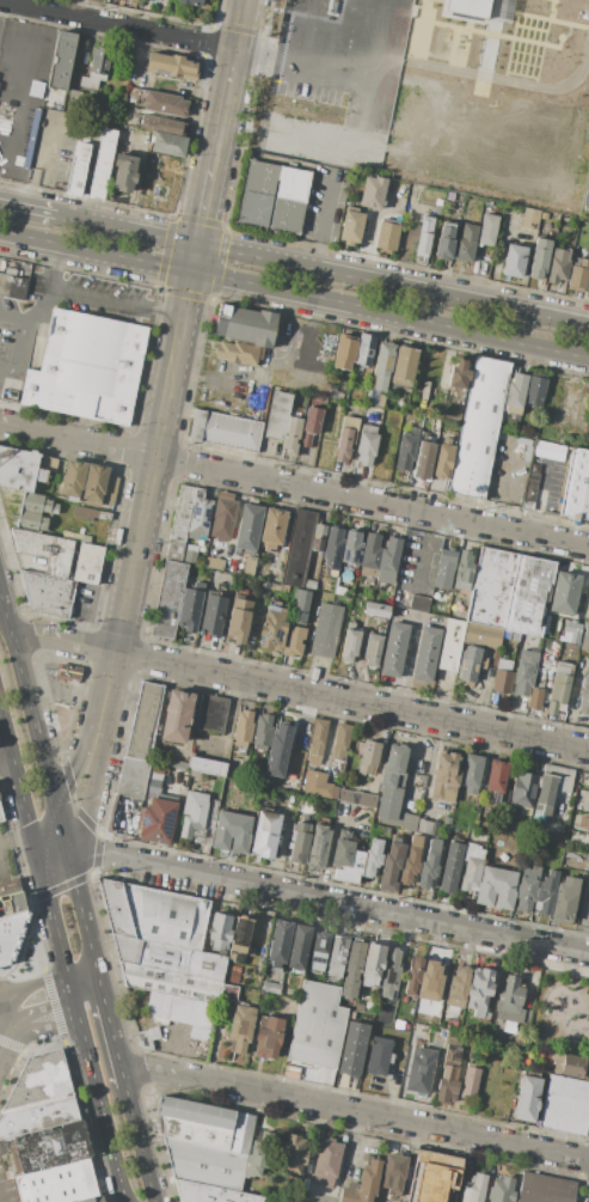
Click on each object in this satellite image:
building: (191, 2)
building: (468, 7)
road: (88, 8)
building: (319, 22)
road: (117, 24)
road: (20, 57)
building: (61, 60)
building: (172, 65)
road: (295, 66)
building: (94, 71)
road: (130, 79)
road: (227, 85)
park: (499, 91)
building: (74, 98)
building: (162, 103)
building: (161, 123)
road: (252, 138)
building: (167, 142)
building: (102, 163)
building: (78, 169)
building: (124, 172)
building: (372, 193)
building: (274, 196)
building: (585, 197)
road: (202, 207)
road: (26, 208)
building: (544, 215)
road: (318, 218)
building: (530, 219)
building: (351, 226)
building: (487, 230)
building: (424, 236)
building: (387, 237)
building: (444, 240)
building: (465, 243)
traffic signals: (196, 245)
road: (194, 257)
building: (539, 257)
building: (515, 261)
building: (558, 264)
traffic signals: (191, 269)
road: (201, 270)
road: (320, 270)
building: (578, 274)
building: (14, 279)
building: (587, 283)
road: (43, 295)
road: (113, 301)
road: (183, 306)
building: (245, 324)
road: (495, 337)
parking lot: (22, 348)
building: (326, 348)
road: (12, 349)
building: (364, 349)
building: (238, 352)
building: (344, 352)
building: (287, 356)
building: (382, 364)
building: (404, 366)
building: (86, 368)
building: (459, 373)
road: (211, 374)
building: (535, 390)
building: (332, 393)
building: (516, 393)
road: (564, 396)
building: (372, 397)
building: (379, 401)
building: (277, 416)
building: (312, 420)
building: (350, 422)
building: (478, 428)
building: (225, 431)
building: (293, 433)
building: (306, 439)
building: (343, 446)
building: (366, 446)
building: (405, 452)
building: (443, 459)
building: (423, 460)
building: (47, 463)
building: (17, 468)
building: (41, 476)
building: (72, 480)
building: (514, 483)
building: (93, 484)
road: (294, 484)
building: (576, 487)
building: (111, 489)
road: (540, 489)
building: (530, 490)
road: (146, 498)
building: (38, 504)
building: (84, 513)
building: (104, 515)
building: (200, 518)
building: (222, 518)
building: (33, 520)
building: (182, 520)
building: (271, 527)
building: (247, 529)
building: (81, 530)
building: (75, 536)
building: (318, 538)
building: (299, 547)
building: (331, 547)
building: (44, 549)
building: (350, 549)
building: (190, 553)
building: (369, 554)
building: (387, 560)
building: (88, 562)
building: (214, 562)
building: (444, 565)
building: (249, 566)
road: (425, 567)
building: (465, 569)
building: (309, 584)
building: (278, 586)
building: (491, 587)
building: (262, 588)
building: (48, 592)
building: (564, 593)
building: (529, 594)
road: (1, 599)
building: (167, 599)
building: (419, 603)
building: (300, 605)
building: (189, 609)
building: (587, 609)
building: (376, 610)
building: (213, 615)
building: (239, 616)
building: (272, 623)
building: (326, 629)
building: (570, 633)
building: (483, 634)
building: (585, 639)
building: (293, 641)
building: (350, 643)
building: (450, 645)
building: (510, 645)
building: (393, 648)
building: (372, 651)
building: (425, 654)
building: (495, 657)
building: (471, 664)
building: (69, 671)
building: (528, 673)
building: (503, 676)
road: (299, 689)
building: (559, 689)
building: (583, 697)
building: (534, 698)
road: (572, 698)
road: (104, 701)
road: (29, 707)
building: (210, 713)
building: (177, 716)
building: (145, 720)
building: (243, 728)
building: (262, 731)
road: (6, 732)
building: (317, 740)
road: (416, 742)
building: (340, 744)
building: (278, 749)
building: (367, 755)
road: (6, 759)
building: (394, 759)
building: (178, 764)
building: (205, 765)
building: (471, 774)
road: (67, 776)
building: (444, 776)
building: (497, 776)
building: (133, 779)
building: (154, 779)
building: (388, 779)
building: (318, 785)
building: (551, 788)
building: (523, 791)
road: (23, 795)
building: (356, 797)
road: (86, 801)
building: (387, 803)
building: (409, 804)
building: (213, 809)
traffic signals: (56, 811)
building: (192, 812)
building: (1, 817)
building: (125, 817)
building: (401, 820)
road: (44, 822)
building: (157, 822)
building: (446, 824)
building: (424, 826)
road: (61, 830)
building: (208, 831)
building: (588, 831)
traffic signals: (32, 832)
building: (232, 832)
building: (264, 834)
road: (16, 836)
road: (49, 841)
building: (299, 842)
road: (330, 844)
building: (318, 846)
traffic signals: (66, 849)
building: (343, 849)
building: (473, 852)
building: (372, 858)
building: (411, 861)
building: (429, 864)
building: (391, 865)
building: (450, 866)
building: (350, 868)
building: (471, 875)
building: (10, 885)
building: (496, 887)
building: (527, 887)
building: (546, 890)
road: (326, 902)
building: (565, 902)
building: (11, 903)
building: (155, 914)
road: (81, 915)
road: (582, 916)
building: (219, 931)
building: (240, 931)
building: (11, 933)
building: (278, 944)
building: (299, 946)
building: (319, 950)
building: (239, 953)
building: (337, 956)
building: (170, 957)
road: (37, 958)
building: (372, 964)
building: (235, 969)
building: (351, 969)
road: (577, 969)
building: (389, 972)
building: (413, 975)
building: (233, 978)
road: (49, 981)
building: (170, 982)
building: (430, 982)
building: (270, 987)
road: (551, 987)
building: (458, 989)
building: (228, 992)
building: (479, 994)
road: (86, 995)
road: (587, 1001)
building: (509, 1002)
building: (358, 1007)
road: (5, 1009)
building: (184, 1013)
park: (560, 1013)
road: (76, 1017)
road: (42, 1018)
road: (5, 1023)
building: (452, 1023)
building: (315, 1025)
building: (240, 1027)
road: (562, 1029)
road: (111, 1032)
building: (155, 1033)
building: (268, 1037)
building: (145, 1039)
building: (454, 1039)
building: (352, 1048)
building: (379, 1055)
building: (453, 1055)
building: (570, 1066)
building: (419, 1069)
building: (471, 1080)
building: (39, 1081)
building: (448, 1084)
building: (527, 1098)
building: (565, 1105)
road: (354, 1111)
building: (37, 1116)
building: (195, 1121)
building: (241, 1131)
road: (139, 1143)
road: (355, 1145)
building: (45, 1149)
building: (293, 1153)
building: (253, 1159)
building: (204, 1164)
building: (326, 1164)
building: (393, 1173)
building: (435, 1177)
building: (363, 1183)
building: (60, 1184)
building: (474, 1188)
building: (545, 1189)
building: (501, 1190)
building: (211, 1194)
building: (91, 1200)

